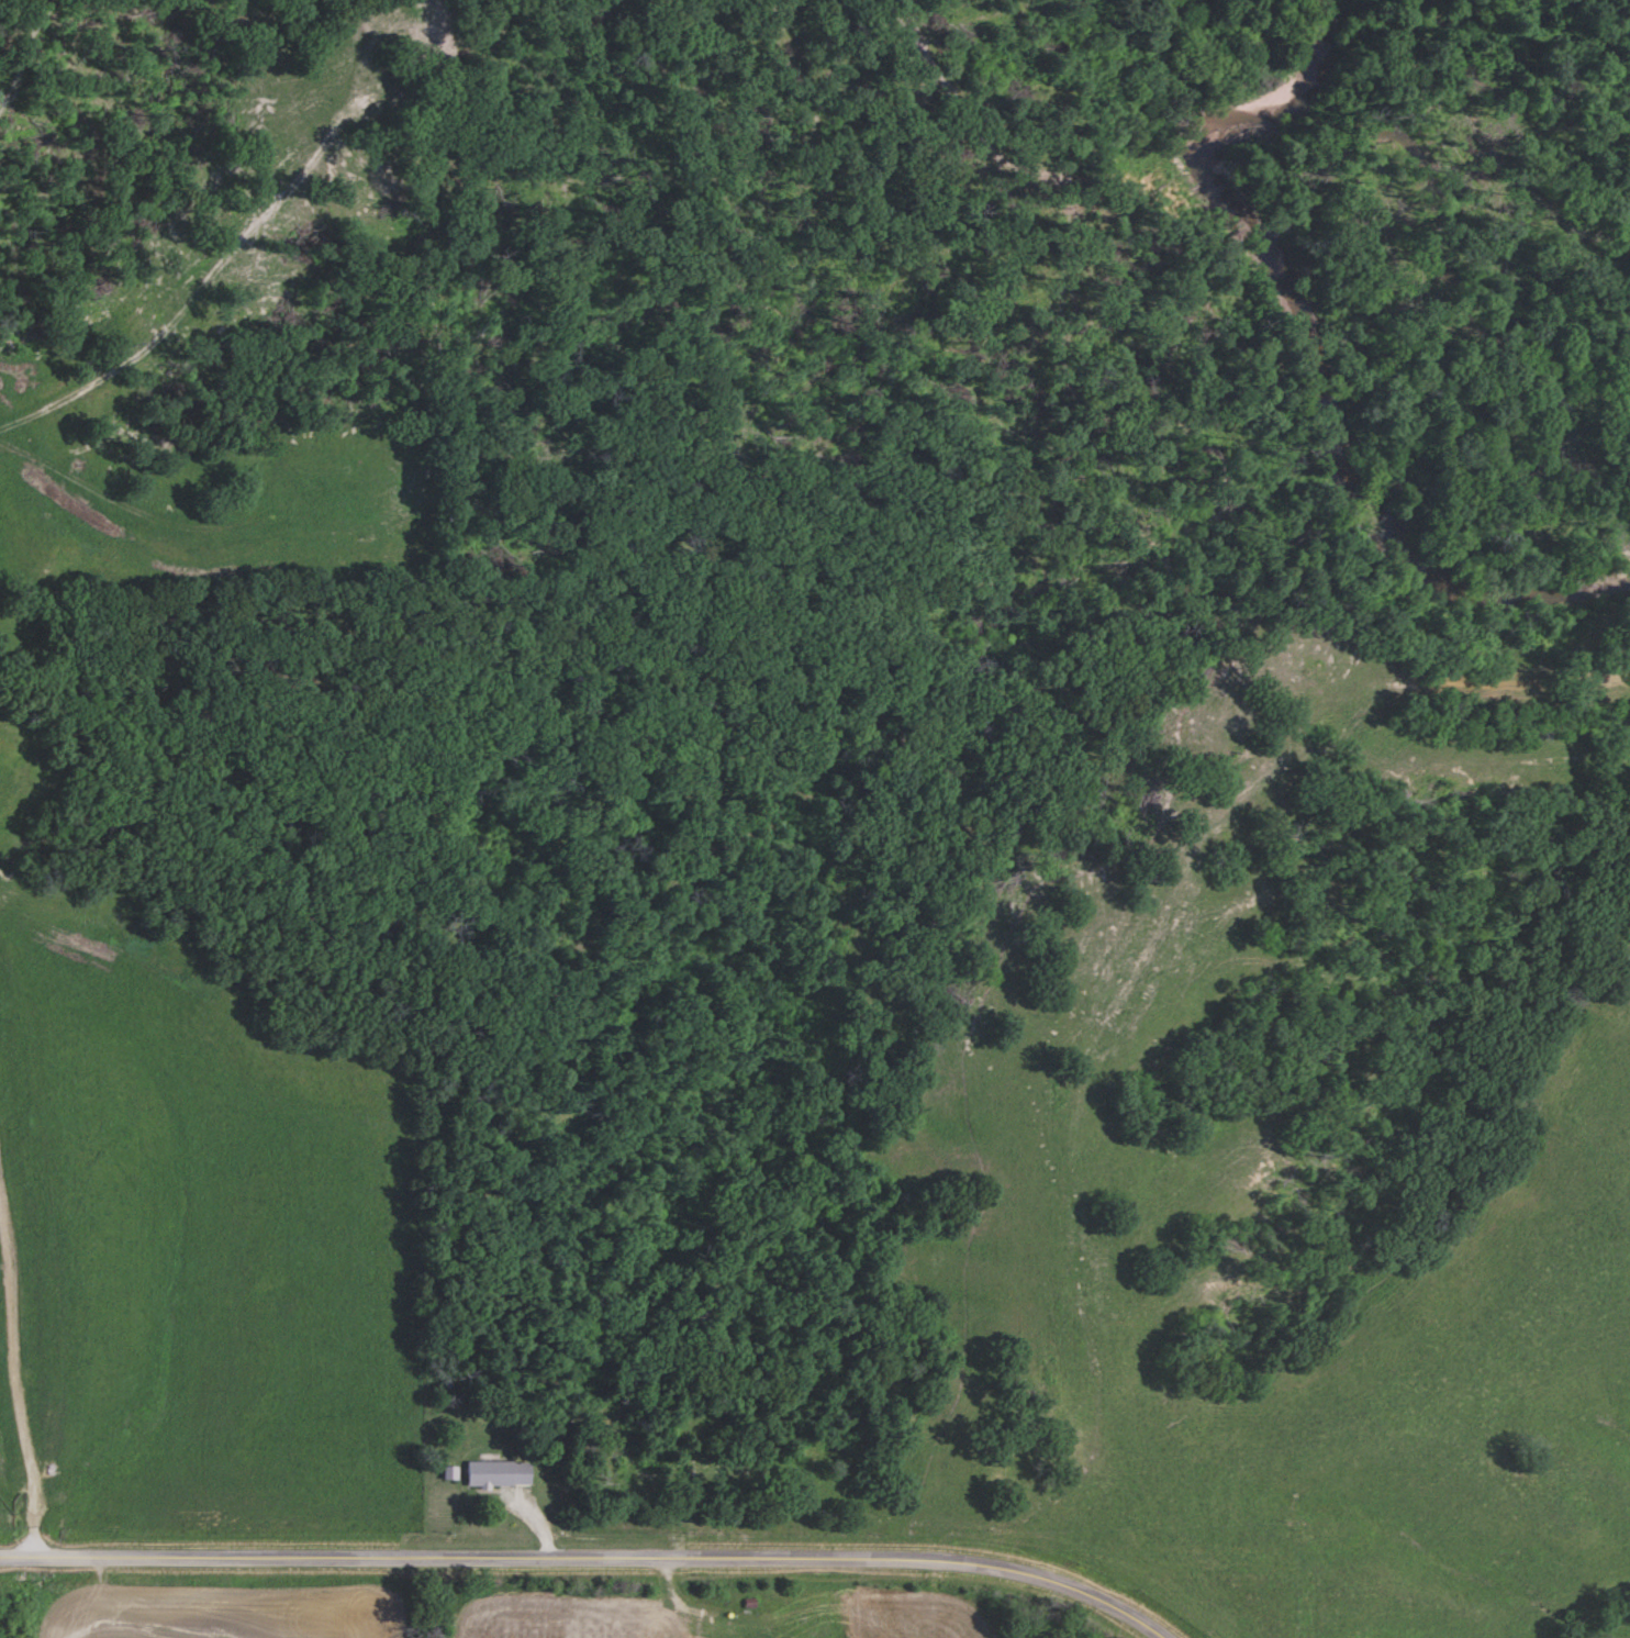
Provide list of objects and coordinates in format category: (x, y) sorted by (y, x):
building: (492, 1473)
road: (590, 1563)

